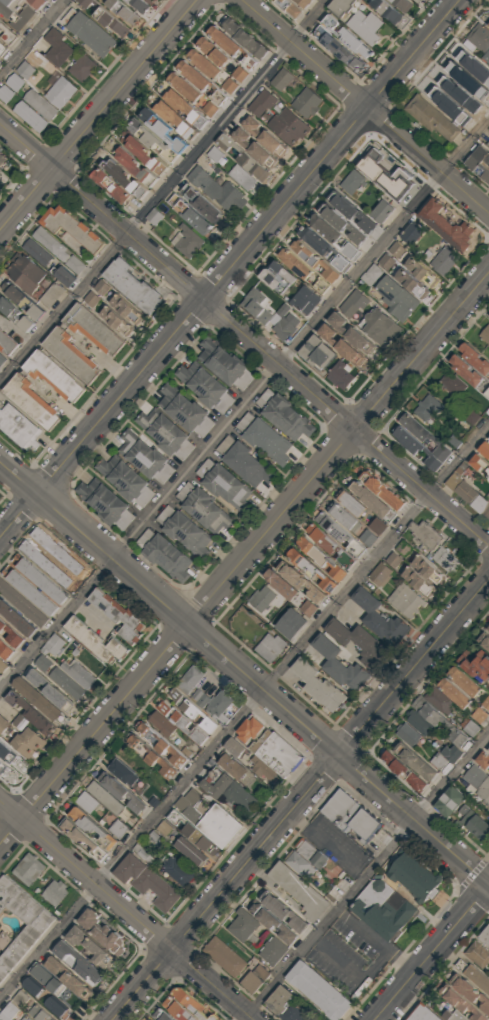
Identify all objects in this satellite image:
building: (37, 3)
building: (303, 3)
building: (140, 5)
building: (400, 5)
building: (341, 7)
building: (288, 8)
building: (18, 10)
building: (123, 10)
building: (383, 11)
building: (104, 17)
building: (12, 19)
building: (488, 25)
building: (365, 26)
building: (87, 31)
building: (7, 36)
building: (478, 37)
building: (346, 38)
road: (33, 39)
building: (225, 39)
building: (244, 39)
building: (207, 45)
building: (56, 48)
building: (2, 49)
building: (337, 49)
building: (486, 56)
building: (221, 57)
building: (250, 61)
building: (205, 63)
building: (81, 68)
building: (26, 69)
building: (240, 73)
building: (194, 74)
building: (282, 79)
building: (15, 81)
building: (185, 86)
building: (225, 91)
building: (61, 92)
building: (6, 93)
building: (264, 101)
building: (308, 102)
building: (41, 104)
road: (363, 107)
building: (185, 108)
building: (210, 108)
building: (31, 115)
road: (97, 116)
building: (429, 118)
building: (174, 120)
building: (290, 125)
building: (162, 131)
building: (263, 138)
building: (152, 142)
building: (254, 149)
building: (215, 153)
building: (145, 156)
building: (243, 158)
building: (2, 159)
building: (479, 163)
building: (135, 168)
building: (387, 174)
building: (1, 175)
building: (245, 178)
building: (125, 180)
building: (352, 182)
building: (110, 188)
building: (217, 189)
road: (163, 192)
building: (200, 204)
building: (350, 212)
building: (381, 212)
building: (188, 214)
building: (155, 216)
building: (342, 224)
building: (446, 227)
building: (71, 228)
building: (409, 234)
building: (334, 237)
building: (188, 240)
building: (59, 249)
building: (397, 249)
building: (325, 250)
building: (36, 252)
building: (443, 260)
building: (387, 261)
building: (313, 262)
road: (229, 269)
building: (304, 271)
building: (423, 272)
building: (25, 273)
building: (372, 274)
building: (63, 276)
building: (278, 279)
building: (413, 283)
building: (130, 287)
building: (97, 292)
building: (51, 295)
building: (397, 298)
building: (21, 301)
building: (305, 301)
building: (354, 301)
building: (256, 306)
building: (129, 309)
building: (15, 315)
building: (120, 321)
building: (380, 325)
building: (92, 328)
building: (350, 334)
building: (485, 334)
road: (244, 336)
building: (5, 344)
building: (340, 346)
building: (316, 354)
building: (68, 357)
building: (475, 357)
building: (1, 360)
building: (220, 361)
road: (111, 366)
building: (466, 370)
building: (52, 376)
building: (339, 376)
building: (454, 383)
building: (201, 384)
building: (487, 393)
building: (28, 403)
road: (244, 405)
building: (429, 406)
building: (180, 407)
building: (282, 414)
building: (472, 416)
building: (17, 427)
building: (161, 431)
building: (425, 437)
building: (263, 438)
building: (488, 439)
building: (415, 448)
building: (484, 451)
building: (143, 457)
building: (245, 462)
building: (479, 466)
building: (126, 482)
building: (221, 482)
building: (381, 491)
building: (468, 496)
building: (370, 501)
building: (352, 503)
building: (104, 505)
building: (203, 509)
building: (344, 515)
building: (379, 525)
building: (184, 531)
building: (337, 533)
building: (428, 534)
building: (329, 546)
building: (55, 551)
building: (399, 553)
building: (163, 555)
road: (245, 559)
building: (321, 559)
building: (447, 560)
building: (45, 564)
building: (310, 570)
building: (379, 573)
building: (426, 576)
building: (40, 582)
building: (303, 582)
building: (282, 583)
building: (31, 593)
building: (263, 600)
building: (404, 600)
building: (22, 603)
building: (309, 607)
building: (118, 617)
building: (15, 619)
building: (381, 619)
building: (289, 624)
building: (9, 636)
building: (485, 638)
building: (357, 641)
building: (97, 643)
building: (55, 644)
building: (269, 647)
building: (4, 651)
building: (45, 663)
building: (338, 665)
building: (2, 666)
building: (477, 670)
road: (244, 671)
building: (80, 673)
building: (39, 679)
building: (190, 679)
building: (465, 681)
building: (67, 682)
building: (318, 687)
building: (455, 692)
building: (60, 696)
building: (40, 701)
building: (485, 704)
building: (190, 710)
road: (244, 711)
building: (33, 714)
building: (20, 721)
building: (440, 722)
building: (181, 723)
building: (3, 725)
building: (471, 728)
building: (248, 729)
building: (26, 742)
building: (161, 746)
building: (233, 748)
building: (149, 756)
building: (278, 756)
building: (483, 761)
building: (11, 763)
building: (414, 763)
building: (231, 767)
building: (261, 769)
building: (402, 772)
building: (478, 783)
building: (225, 788)
building: (120, 791)
building: (104, 798)
building: (88, 801)
road: (299, 801)
building: (450, 804)
building: (341, 810)
building: (208, 818)
building: (92, 828)
building: (362, 829)
building: (478, 829)
building: (192, 833)
building: (82, 839)
road: (328, 844)
building: (312, 855)
building: (300, 865)
building: (27, 869)
building: (177, 870)
building: (415, 876)
road: (366, 877)
building: (145, 883)
building: (299, 892)
building: (53, 893)
building: (384, 908)
road: (126, 911)
building: (283, 913)
building: (272, 923)
building: (241, 925)
building: (18, 926)
building: (105, 934)
building: (484, 936)
road: (376, 943)
building: (93, 951)
building: (272, 951)
road: (432, 954)
building: (476, 955)
building: (223, 957)
building: (77, 963)
road: (351, 969)
building: (472, 975)
building: (67, 978)
building: (46, 979)
building: (251, 983)
building: (33, 987)
building: (316, 990)
building: (470, 993)
building: (277, 1000)
building: (458, 1001)
building: (57, 1006)
building: (193, 1006)
building: (9, 1011)
building: (178, 1012)
building: (40, 1013)
building: (293, 1014)
building: (421, 1014)
building: (454, 1016)
building: (163, 1017)
building: (28, 1018)
building: (150, 1019)

